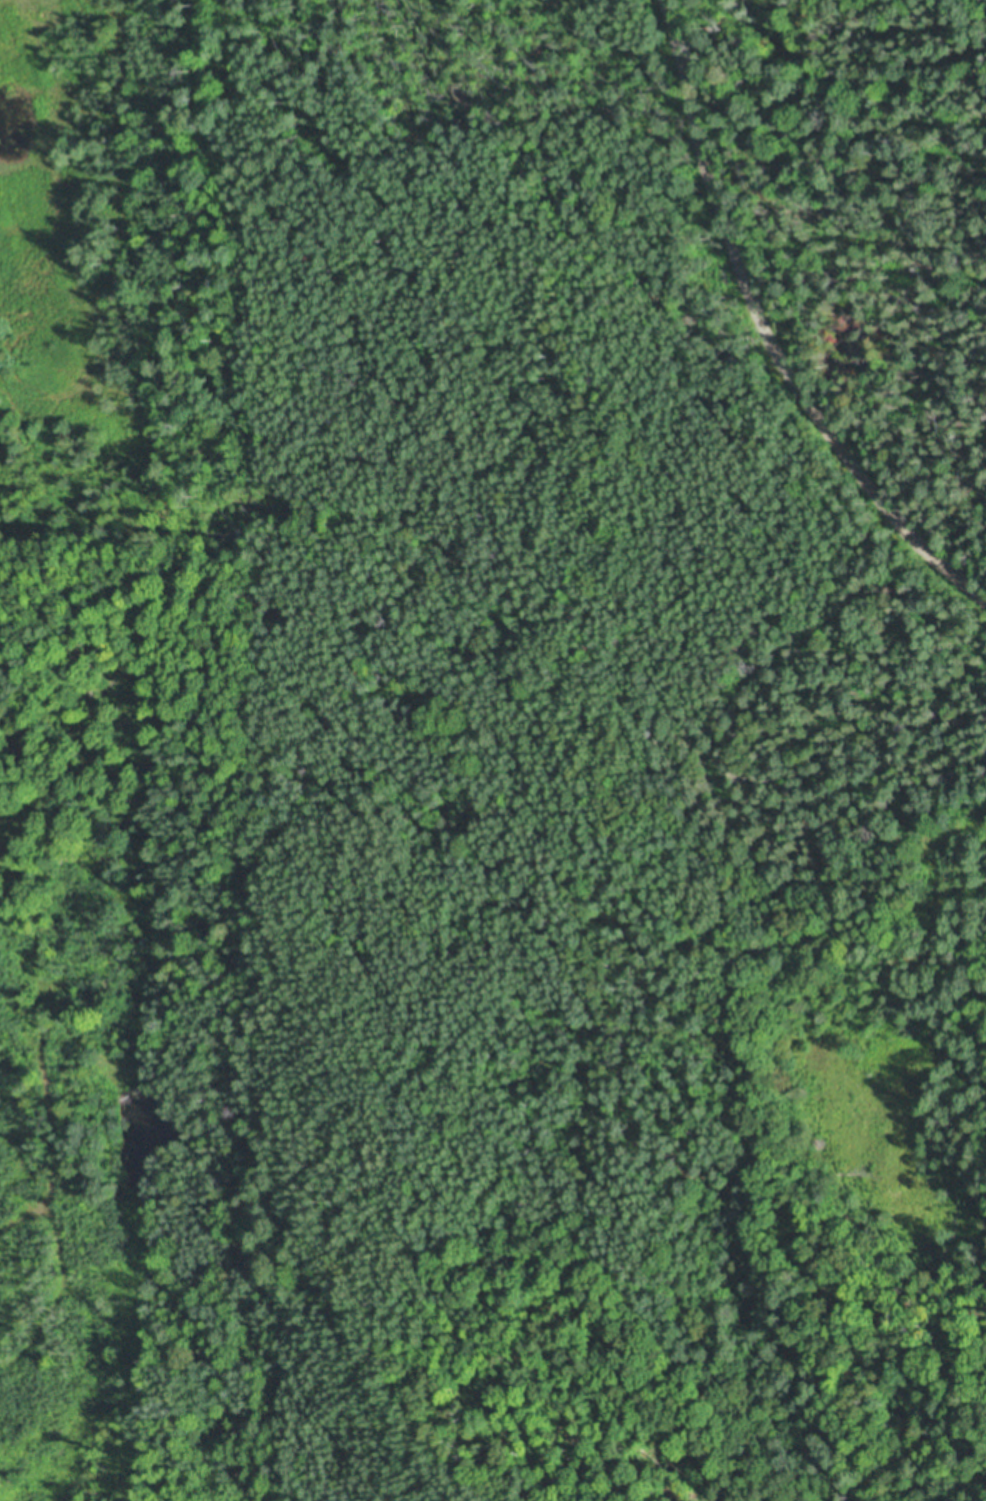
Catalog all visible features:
road: (757, 337)
road: (914, 861)

